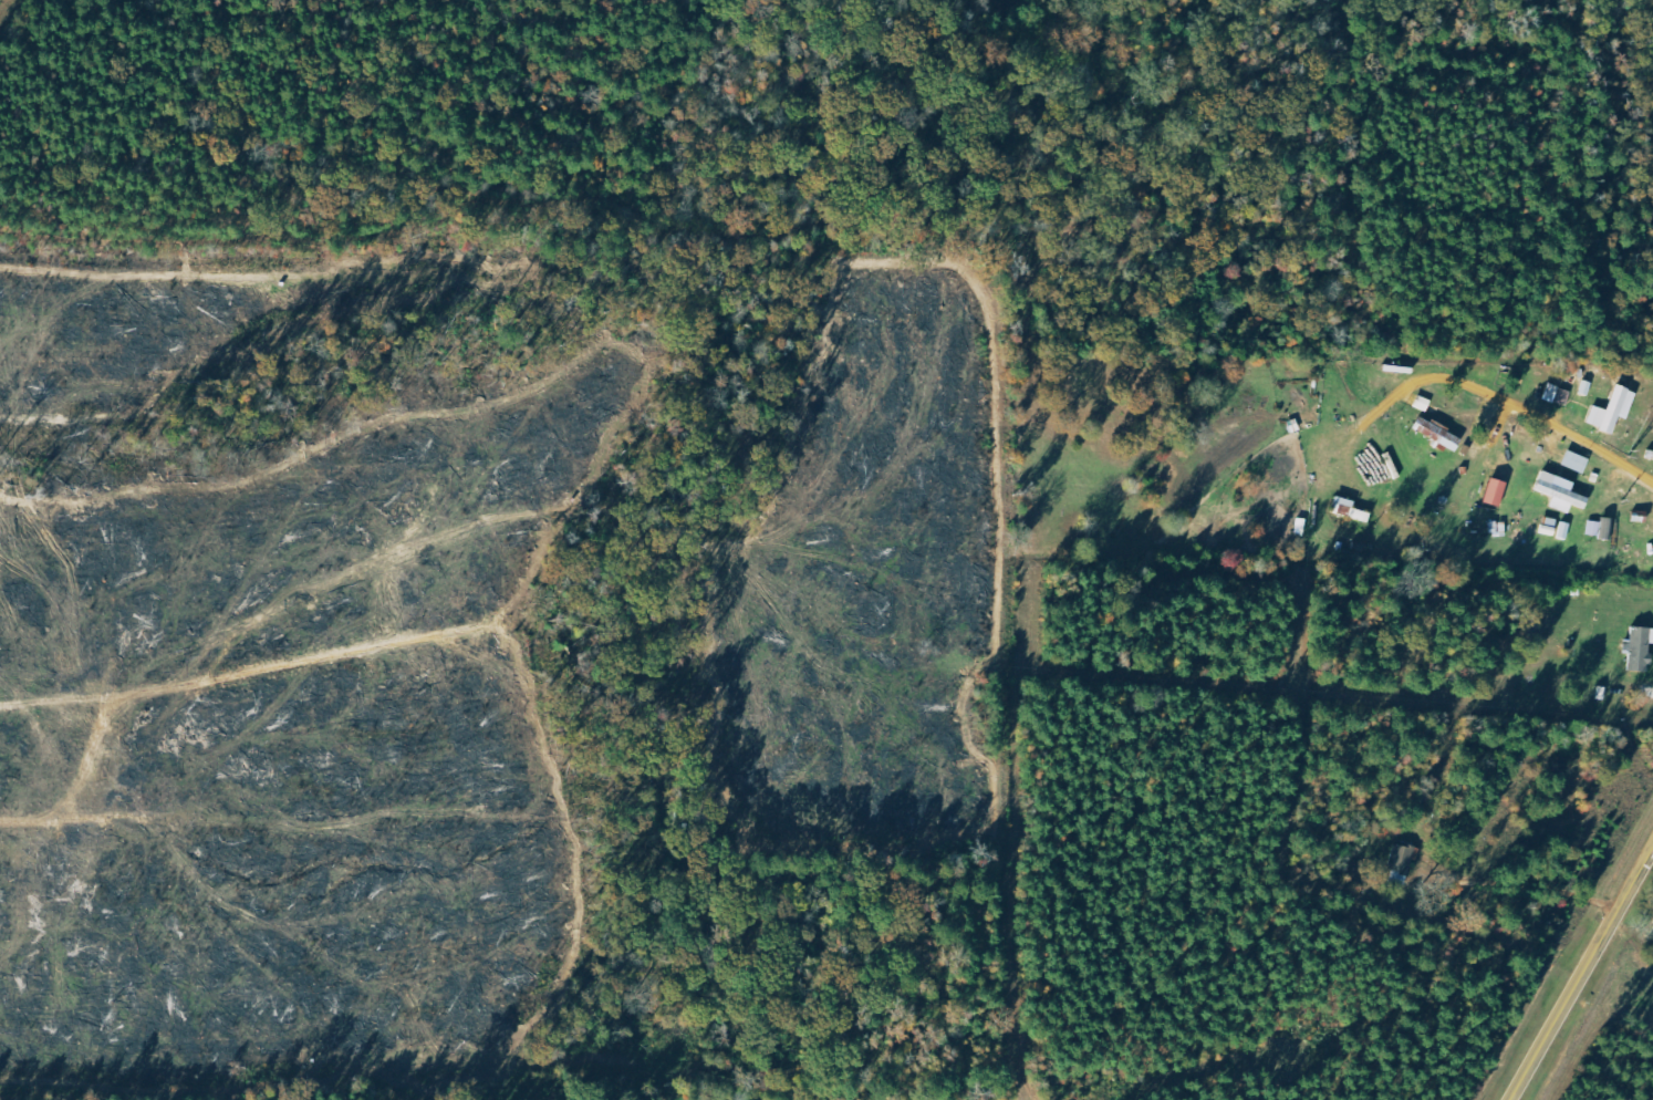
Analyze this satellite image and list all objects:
road: (1530, 408)
building: (1441, 434)
building: (1578, 461)
building: (1498, 492)
building: (1562, 492)
building: (1352, 510)
building: (1551, 526)
building: (1602, 528)
building: (1566, 530)
building: (1641, 650)
road: (1644, 686)
building: (1403, 864)
road: (1582, 975)

